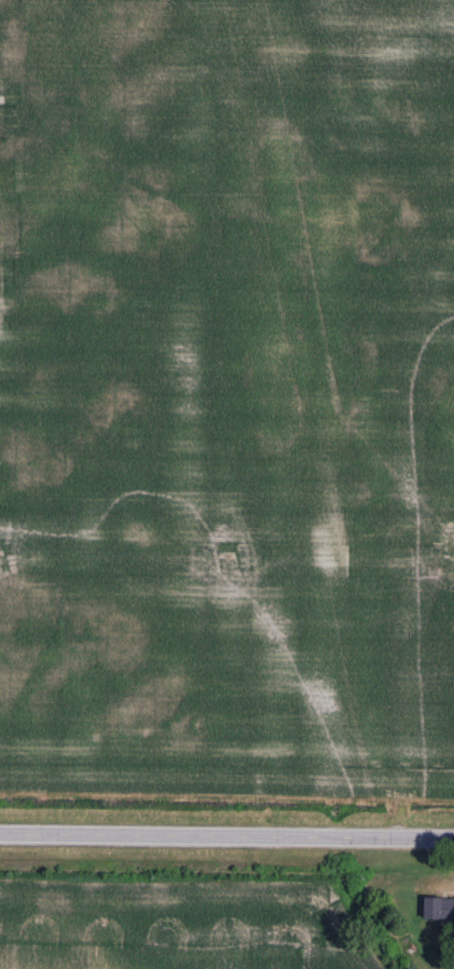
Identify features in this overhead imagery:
road: (227, 831)
building: (440, 909)

